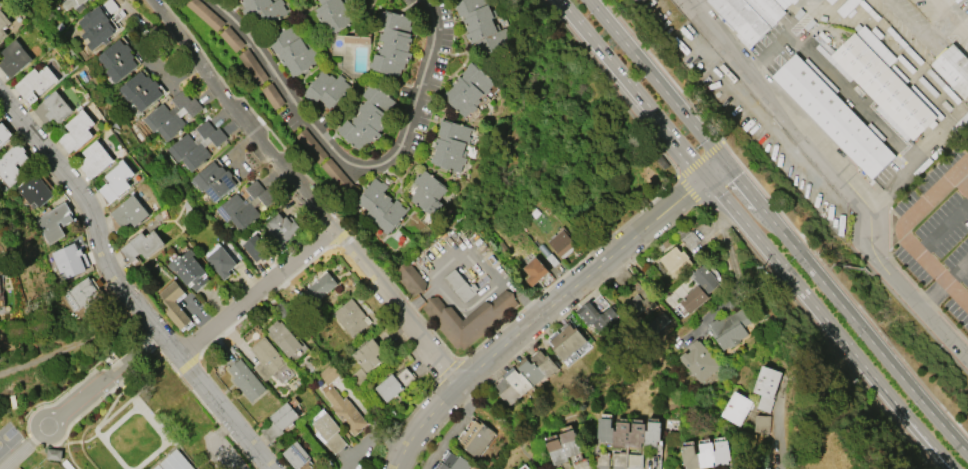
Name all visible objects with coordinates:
building: (0, 1)
road: (177, 2)
building: (832, 2)
building: (73, 4)
road: (563, 4)
building: (107, 7)
building: (847, 8)
road: (164, 10)
building: (264, 11)
building: (204, 13)
building: (336, 14)
building: (749, 16)
building: (3, 23)
building: (482, 24)
building: (96, 27)
road: (926, 31)
road: (789, 35)
building: (231, 37)
building: (359, 39)
building: (394, 48)
building: (293, 49)
building: (14, 58)
building: (117, 60)
building: (249, 60)
building: (953, 69)
road: (656, 81)
building: (36, 82)
building: (881, 83)
building: (328, 89)
building: (469, 89)
building: (141, 90)
road: (637, 91)
building: (272, 94)
building: (53, 107)
building: (172, 115)
building: (833, 115)
building: (369, 118)
building: (77, 131)
building: (4, 134)
building: (197, 145)
building: (312, 145)
building: (452, 145)
road: (704, 156)
road: (917, 156)
building: (95, 159)
traffic signals: (693, 160)
road: (349, 162)
building: (12, 164)
road: (715, 169)
building: (336, 174)
road: (840, 176)
traffic signals: (736, 177)
building: (215, 180)
building: (117, 181)
road: (961, 182)
railway: (816, 191)
building: (34, 192)
road: (304, 192)
building: (429, 192)
traffic signals: (687, 192)
road: (750, 195)
building: (246, 205)
building: (382, 206)
building: (130, 211)
building: (54, 222)
building: (283, 227)
road: (943, 228)
road: (902, 231)
parking lot: (938, 232)
building: (687, 236)
building: (563, 243)
building: (665, 244)
building: (143, 245)
building: (254, 247)
road: (464, 247)
building: (69, 260)
building: (221, 261)
building: (676, 261)
building: (536, 269)
building: (189, 270)
road: (735, 271)
building: (408, 277)
building: (706, 278)
road: (944, 284)
road: (124, 286)
building: (322, 286)
building: (460, 286)
road: (259, 292)
building: (1, 294)
building: (84, 296)
building: (693, 298)
building: (174, 305)
building: (640, 306)
road: (470, 307)
road: (540, 313)
building: (350, 317)
building: (470, 317)
building: (598, 318)
road: (828, 323)
building: (657, 324)
building: (731, 328)
building: (285, 338)
building: (567, 341)
road: (871, 341)
road: (965, 351)
building: (369, 354)
building: (267, 357)
building: (699, 360)
road: (110, 373)
building: (330, 373)
building: (526, 377)
building: (246, 378)
building: (357, 379)
building: (389, 387)
building: (767, 387)
building: (737, 408)
building: (346, 411)
building: (281, 423)
building: (762, 423)
building: (327, 427)
road: (452, 430)
building: (630, 433)
road: (777, 436)
road: (54, 437)
building: (475, 439)
road: (214, 440)
road: (386, 440)
building: (564, 446)
building: (54, 454)
building: (706, 454)
building: (298, 456)
building: (175, 461)
building: (455, 462)
building: (157, 467)
building: (523, 468)

